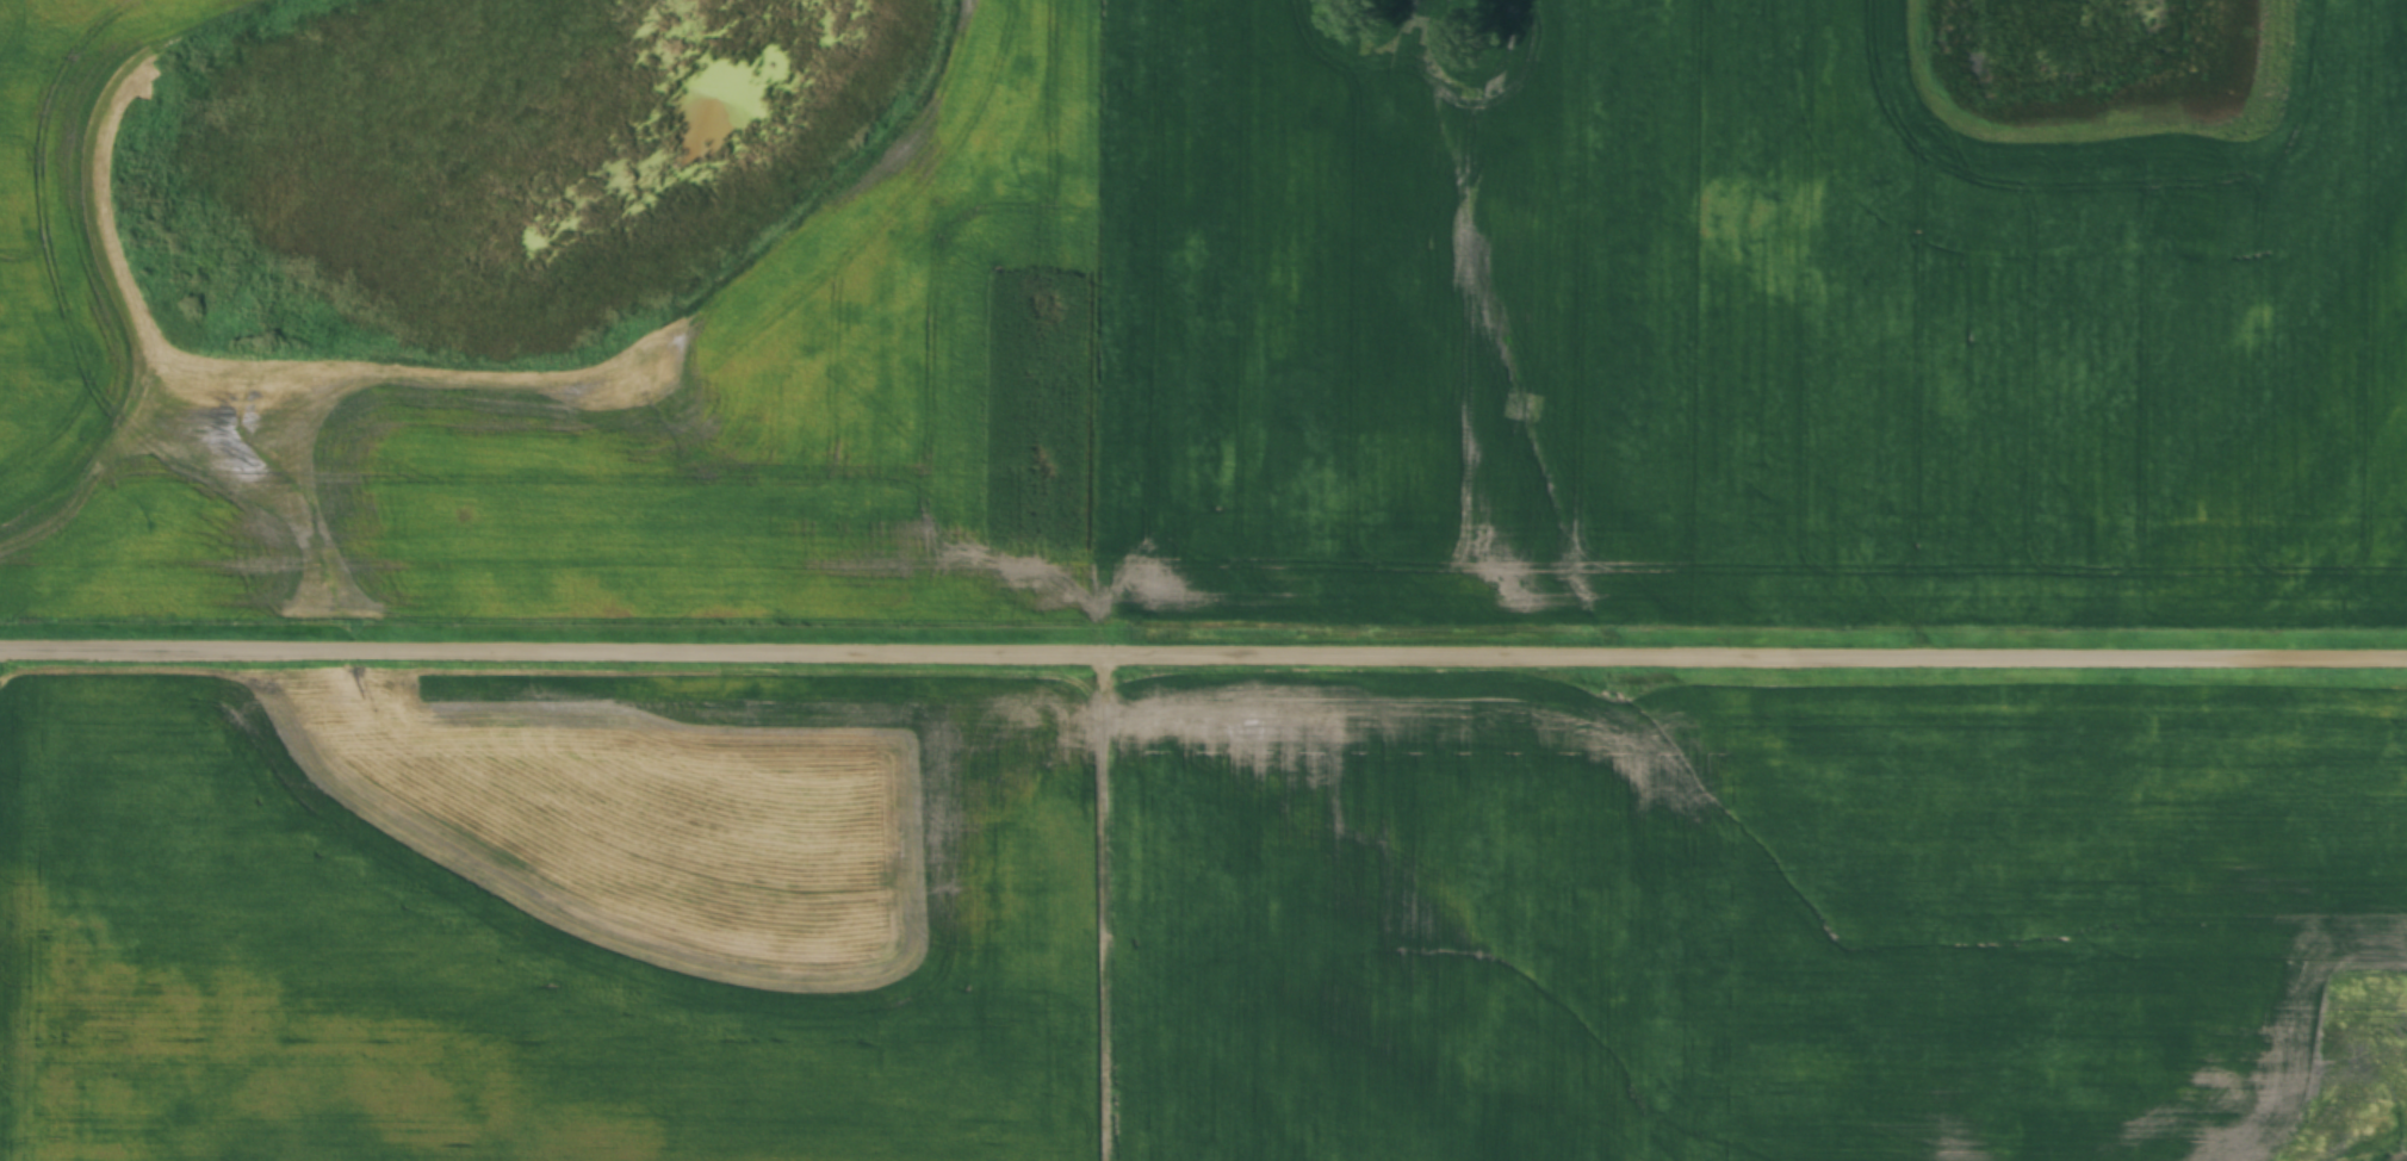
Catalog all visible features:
road: (1203, 659)
road: (1105, 909)

